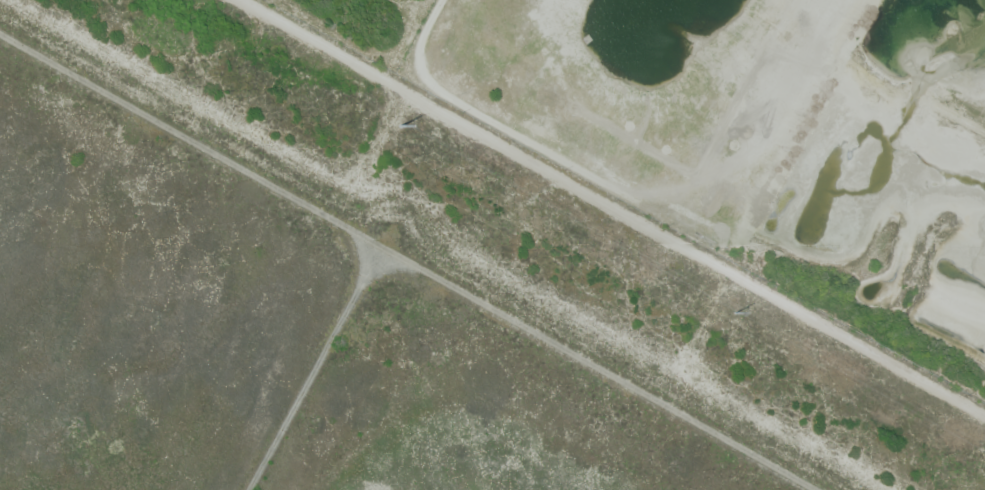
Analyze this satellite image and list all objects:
road: (614, 206)
road: (409, 260)
power plant: (384, 292)
road: (314, 367)

